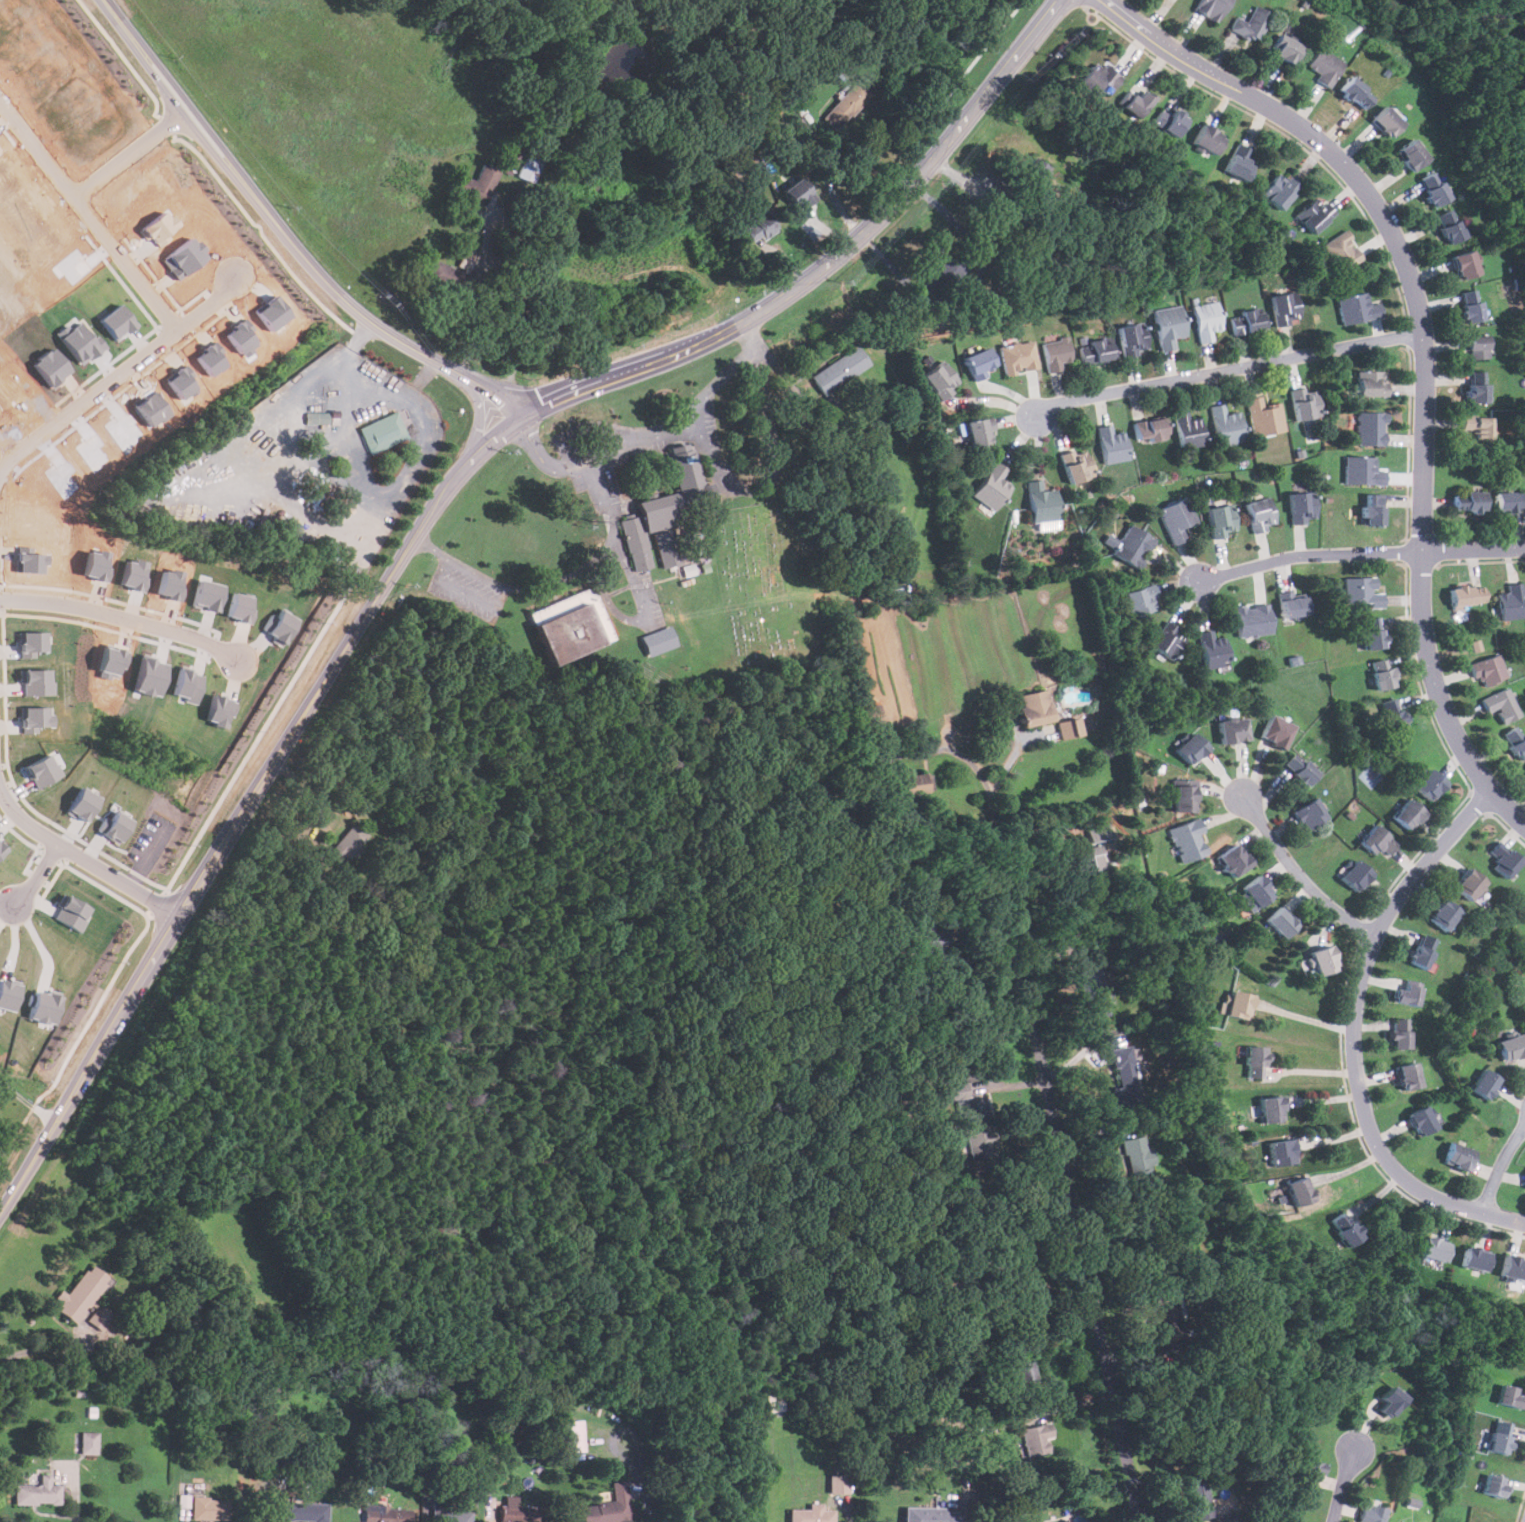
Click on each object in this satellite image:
building: (1211, 8)
building: (1251, 24)
building: (1285, 49)
building: (1325, 66)
building: (1096, 79)
building: (1356, 93)
building: (1134, 103)
building: (846, 105)
building: (1170, 121)
building: (1387, 121)
building: (1208, 139)
road: (130, 151)
building: (1412, 155)
building: (1238, 162)
building: (528, 171)
building: (1034, 172)
building: (474, 184)
building: (1433, 189)
building: (1278, 191)
building: (798, 194)
building: (1314, 214)
road: (508, 222)
building: (1450, 226)
building: (757, 227)
road: (286, 235)
road: (112, 246)
building: (1341, 252)
road: (829, 263)
building: (1465, 264)
building: (943, 275)
building: (1471, 305)
building: (1285, 307)
building: (1357, 308)
building: (1206, 319)
building: (1247, 321)
building: (1167, 325)
road: (747, 335)
building: (1132, 338)
building: (1477, 347)
building: (1095, 350)
road: (1425, 351)
building: (1055, 353)
building: (1018, 355)
building: (979, 362)
building: (839, 369)
road: (1229, 369)
building: (941, 379)
road: (369, 382)
road: (717, 382)
building: (1372, 383)
building: (1477, 386)
road: (85, 400)
building: (1305, 403)
building: (1265, 416)
building: (317, 418)
traffic signals: (518, 418)
building: (1226, 425)
building: (1478, 426)
building: (1370, 428)
building: (1149, 429)
building: (1188, 430)
building: (977, 431)
building: (382, 432)
road: (9, 439)
building: (1111, 445)
road: (594, 452)
building: (1076, 464)
road: (771, 468)
building: (1362, 470)
building: (992, 486)
building: (1509, 500)
building: (1471, 501)
road: (607, 502)
building: (665, 505)
building: (1043, 505)
building: (1302, 506)
building: (1372, 509)
building: (206, 513)
building: (1259, 514)
building: (1175, 518)
building: (1220, 520)
building: (1129, 544)
road: (431, 547)
building: (666, 547)
road: (1361, 552)
road: (476, 572)
road: (558, 581)
park: (773, 588)
building: (1362, 591)
road: (465, 593)
building: (1467, 595)
building: (1140, 600)
building: (1510, 602)
building: (1293, 605)
road: (120, 618)
building: (1253, 619)
building: (571, 625)
building: (1373, 632)
building: (1167, 639)
building: (657, 640)
building: (32, 643)
building: (1212, 649)
building: (1487, 670)
building: (1383, 673)
building: (36, 682)
building: (1501, 705)
building: (1035, 708)
building: (871, 713)
building: (1392, 714)
building: (34, 718)
building: (1069, 728)
building: (1232, 729)
building: (1276, 731)
building: (1516, 741)
building: (1191, 748)
road: (1009, 758)
building: (1300, 769)
building: (43, 771)
building: (911, 784)
building: (1430, 784)
building: (1184, 795)
building: (82, 804)
road: (246, 807)
building: (1309, 814)
building: (1408, 814)
building: (115, 827)
building: (1099, 831)
road: (1027, 836)
building: (1377, 840)
building: (1187, 841)
building: (347, 843)
road: (996, 843)
building: (1, 849)
road: (81, 857)
building: (1087, 858)
building: (1504, 859)
building: (1233, 860)
road: (1298, 869)
road: (37, 874)
building: (1356, 875)
building: (1469, 883)
building: (1258, 890)
building: (71, 913)
building: (1443, 914)
building: (1281, 922)
road: (973, 926)
building: (931, 940)
building: (1422, 950)
building: (1324, 960)
building: (1092, 993)
building: (1406, 994)
building: (7, 995)
building: (1239, 1004)
building: (43, 1007)
road: (1304, 1018)
road: (1351, 1029)
building: (1400, 1033)
building: (1511, 1047)
building: (1255, 1062)
building: (1409, 1076)
building: (1122, 1077)
building: (1484, 1083)
road: (27, 1101)
building: (1271, 1109)
building: (1421, 1121)
building: (977, 1129)
building: (1283, 1152)
building: (1458, 1156)
building: (1137, 1163)
road: (1501, 1166)
building: (1300, 1191)
building: (1345, 1228)
building: (1434, 1249)
building: (1475, 1259)
road: (1084, 1265)
building: (1513, 1268)
building: (1014, 1280)
building: (84, 1298)
building: (1166, 1311)
building: (151, 1356)
building: (1022, 1368)
building: (1510, 1397)
building: (1390, 1402)
building: (571, 1437)
building: (1500, 1437)
building: (1035, 1439)
building: (88, 1442)
building: (1311, 1469)
road: (637, 1479)
road: (1347, 1481)
building: (840, 1482)
building: (1494, 1485)
building: (37, 1493)
building: (1199, 1494)
building: (609, 1507)
building: (209, 1508)
building: (300, 1512)
building: (521, 1513)
building: (386, 1514)
building: (811, 1514)
building: (1371, 1514)
building: (930, 1515)
road: (850, 1516)
building: (452, 1517)
building: (1225, 1517)

